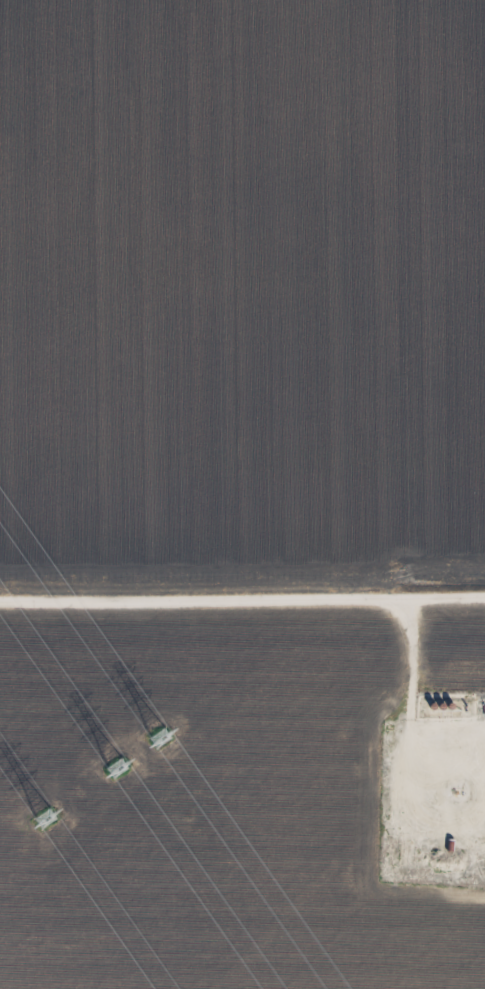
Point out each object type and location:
power tower: (163, 744)
power tower: (120, 771)
power tower: (48, 823)

